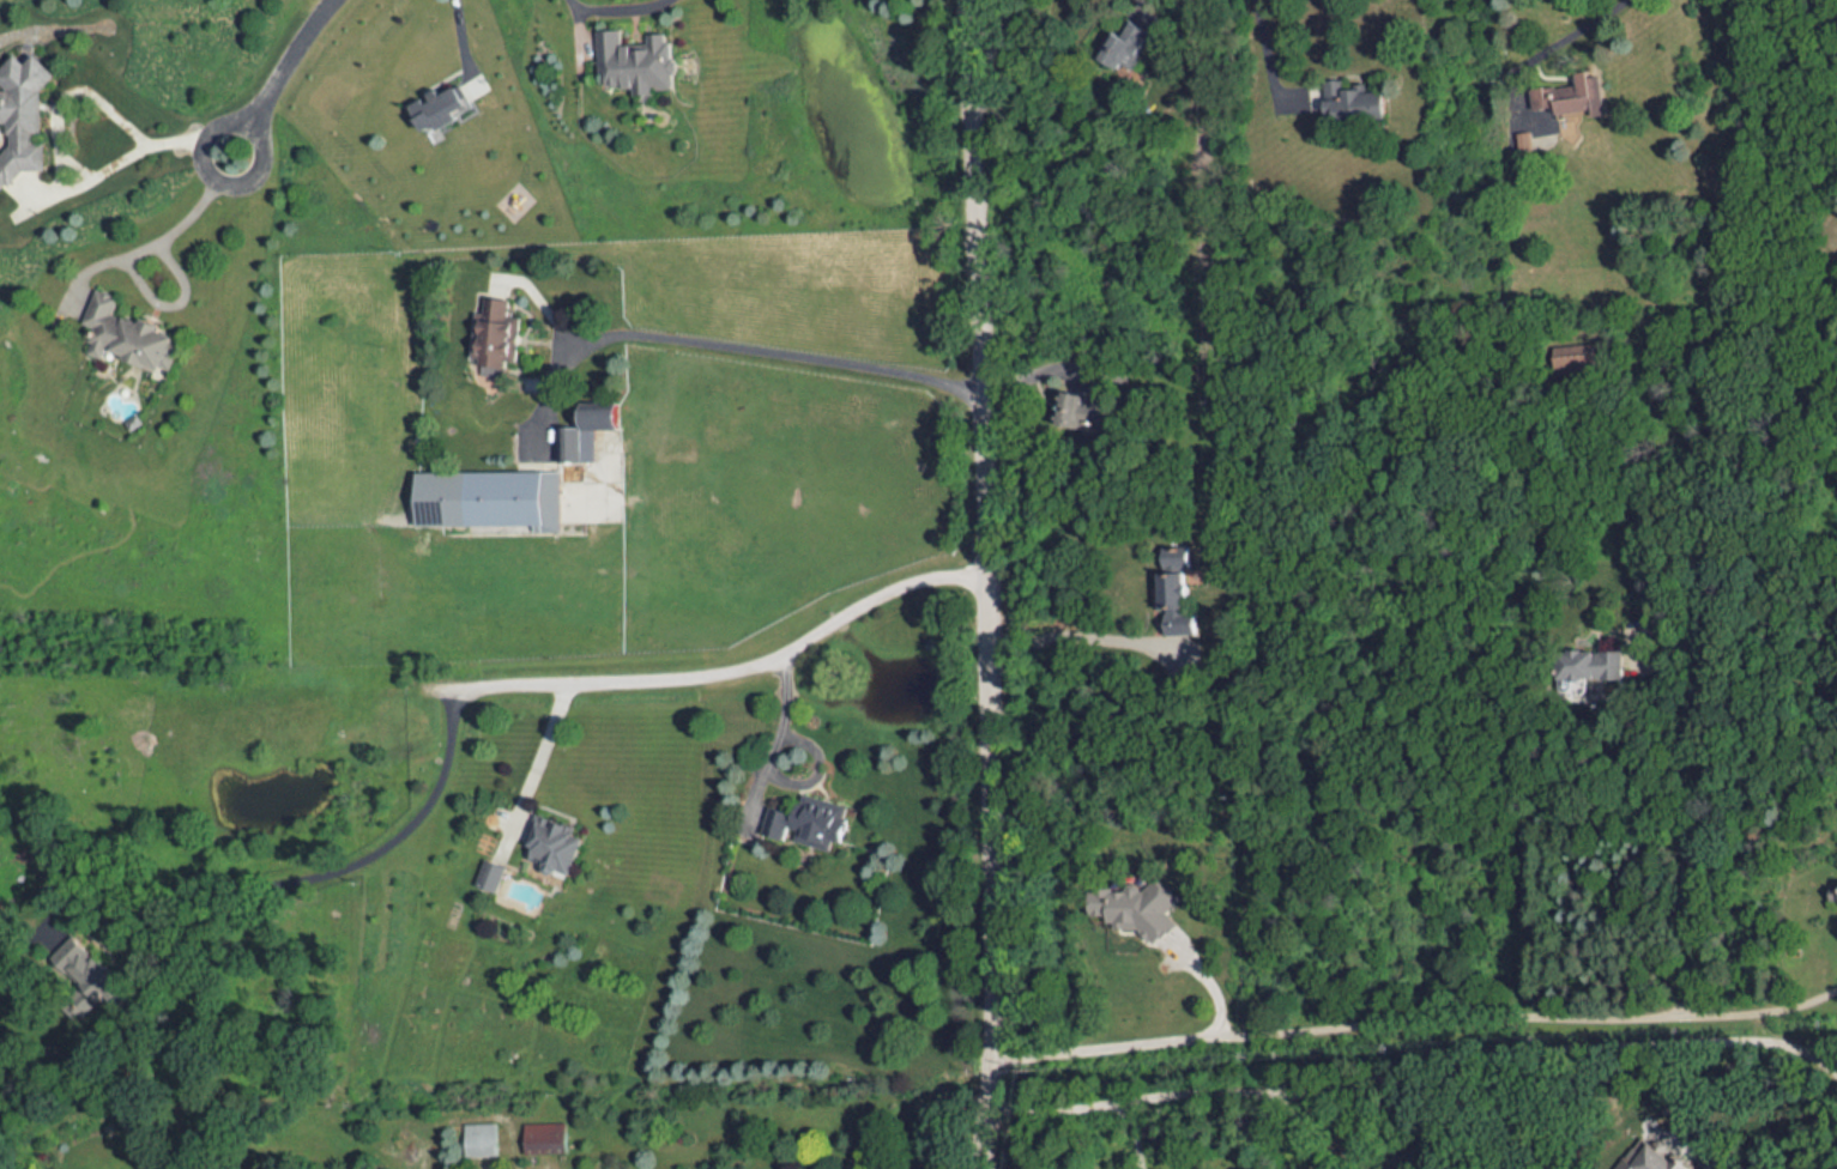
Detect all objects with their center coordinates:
road: (615, 8)
road: (1581, 31)
road: (463, 32)
road: (1261, 50)
building: (647, 63)
road: (278, 78)
road: (74, 97)
building: (1339, 105)
building: (26, 117)
road: (150, 242)
building: (501, 310)
building: (133, 337)
road: (732, 347)
building: (574, 444)
building: (515, 498)
road: (986, 584)
road: (1078, 638)
road: (718, 665)
road: (544, 745)
road: (775, 762)
road: (1643, 816)
building: (804, 824)
building: (555, 843)
road: (342, 873)
road: (1209, 975)
road: (1413, 1012)
road: (1412, 1068)
road: (1301, 1131)
road: (1134, 1133)
building: (550, 1137)
building: (484, 1140)

